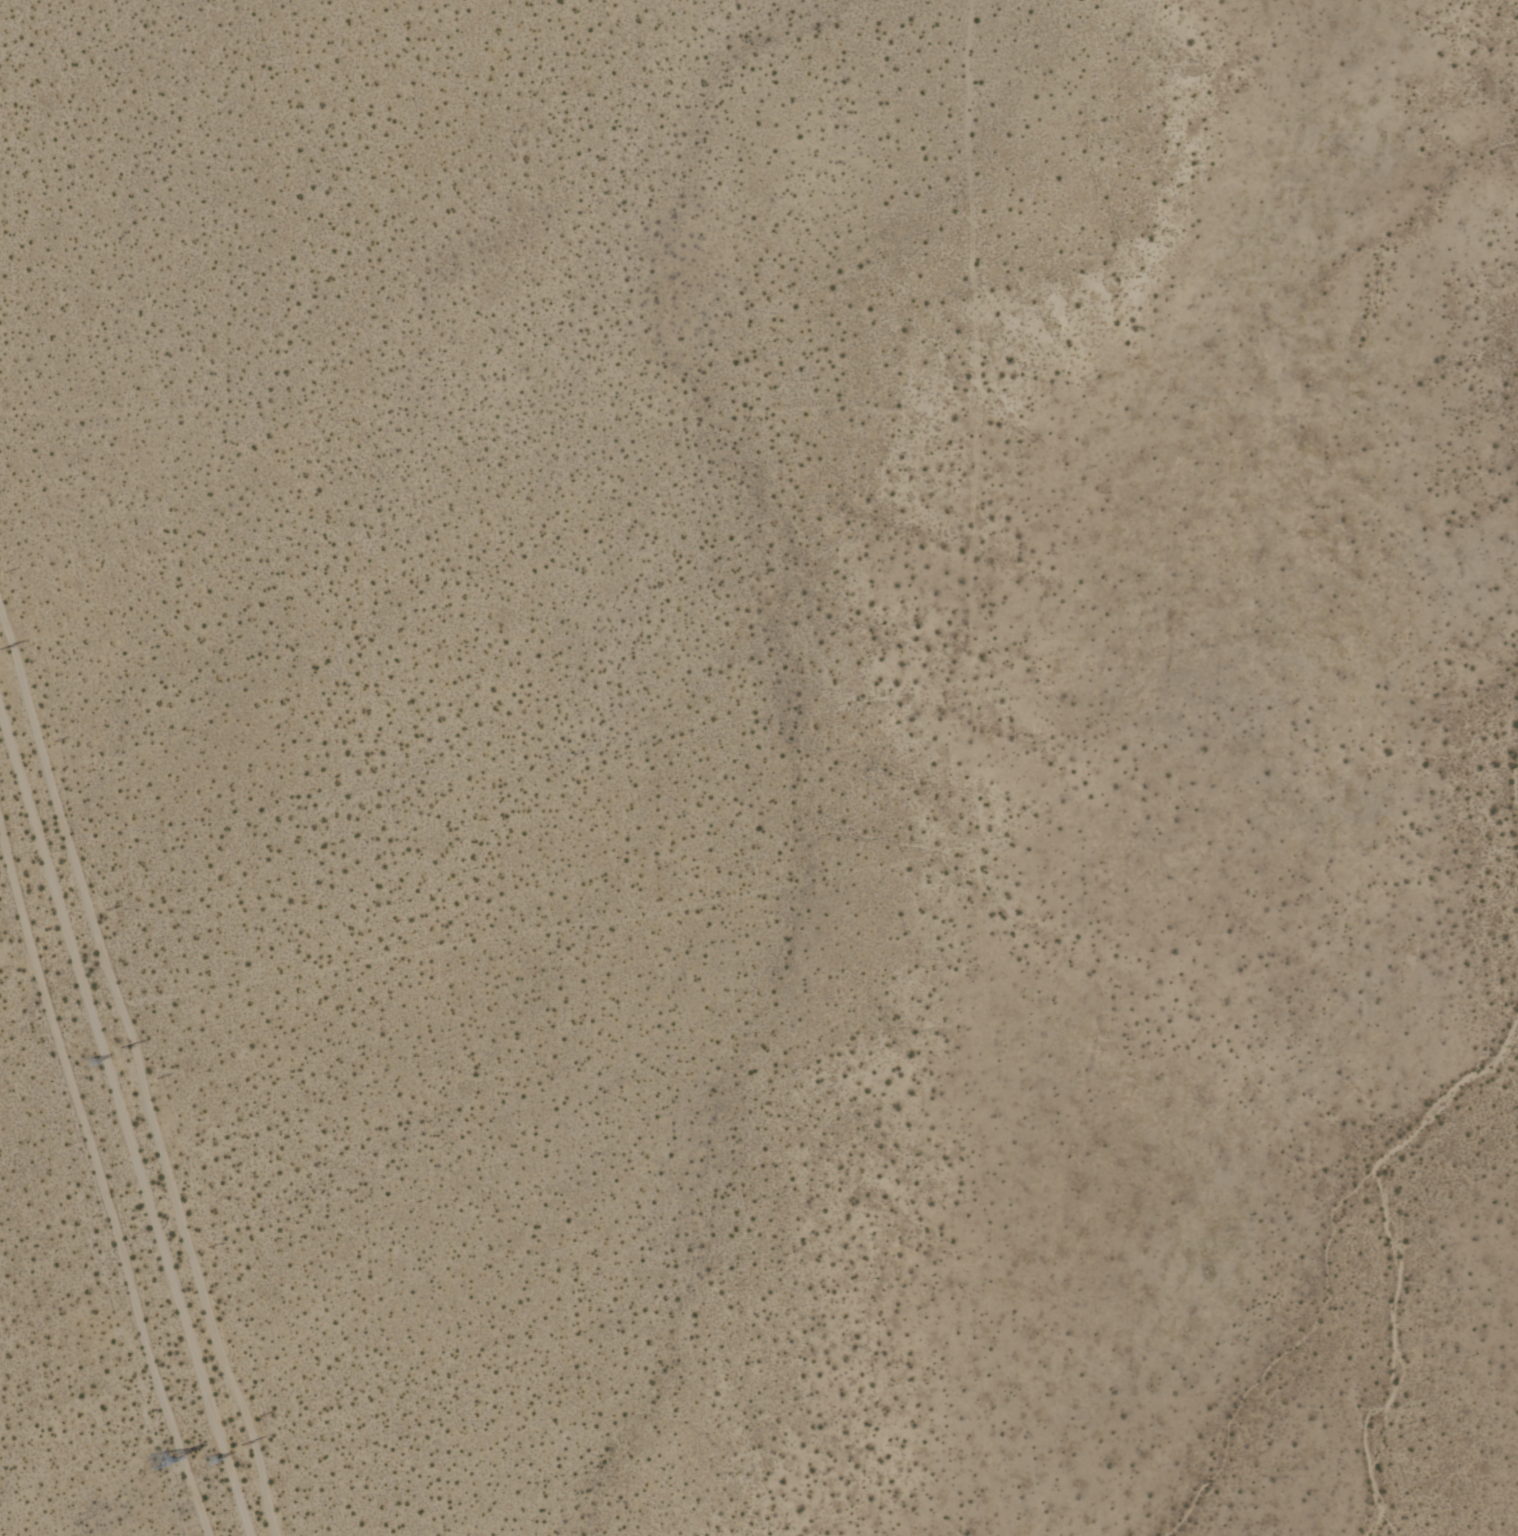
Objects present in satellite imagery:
power tower: (5, 652)
power tower: (124, 1045)
power tower: (84, 1067)
power tower: (247, 1447)
power tower: (159, 1460)
power tower: (202, 1460)

